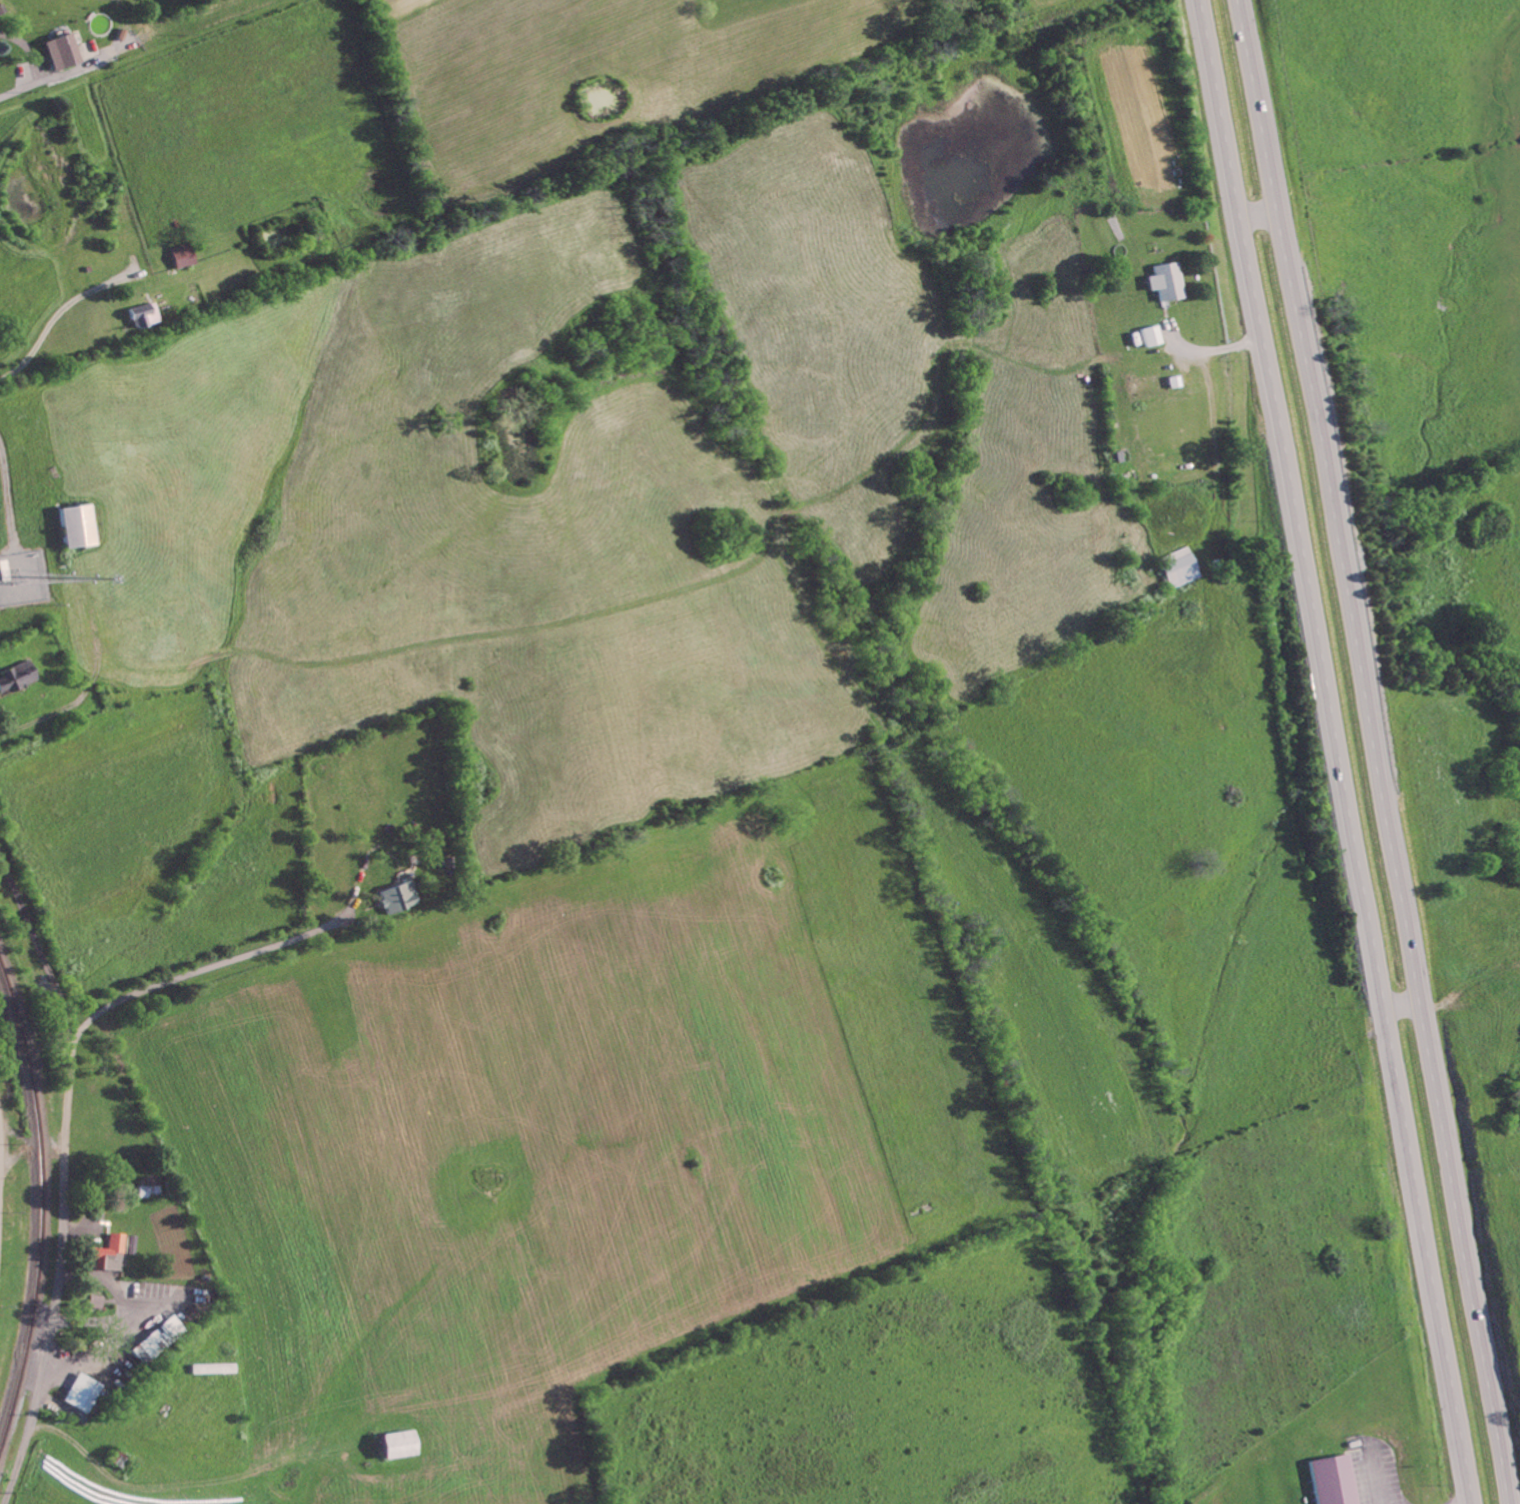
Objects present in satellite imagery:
building: (2, 11)
building: (61, 53)
building: (182, 256)
building: (1167, 283)
building: (144, 316)
building: (1152, 337)
road: (1179, 340)
road: (51, 351)
road: (1212, 415)
building: (76, 528)
building: (1181, 568)
road: (119, 676)
building: (15, 677)
road: (1339, 751)
road: (1378, 751)
building: (400, 897)
road: (184, 975)
road: (65, 1174)
building: (144, 1192)
railway: (39, 1207)
building: (110, 1253)
building: (96, 1302)
building: (157, 1339)
building: (82, 1393)
building: (399, 1445)
building: (1333, 1481)

